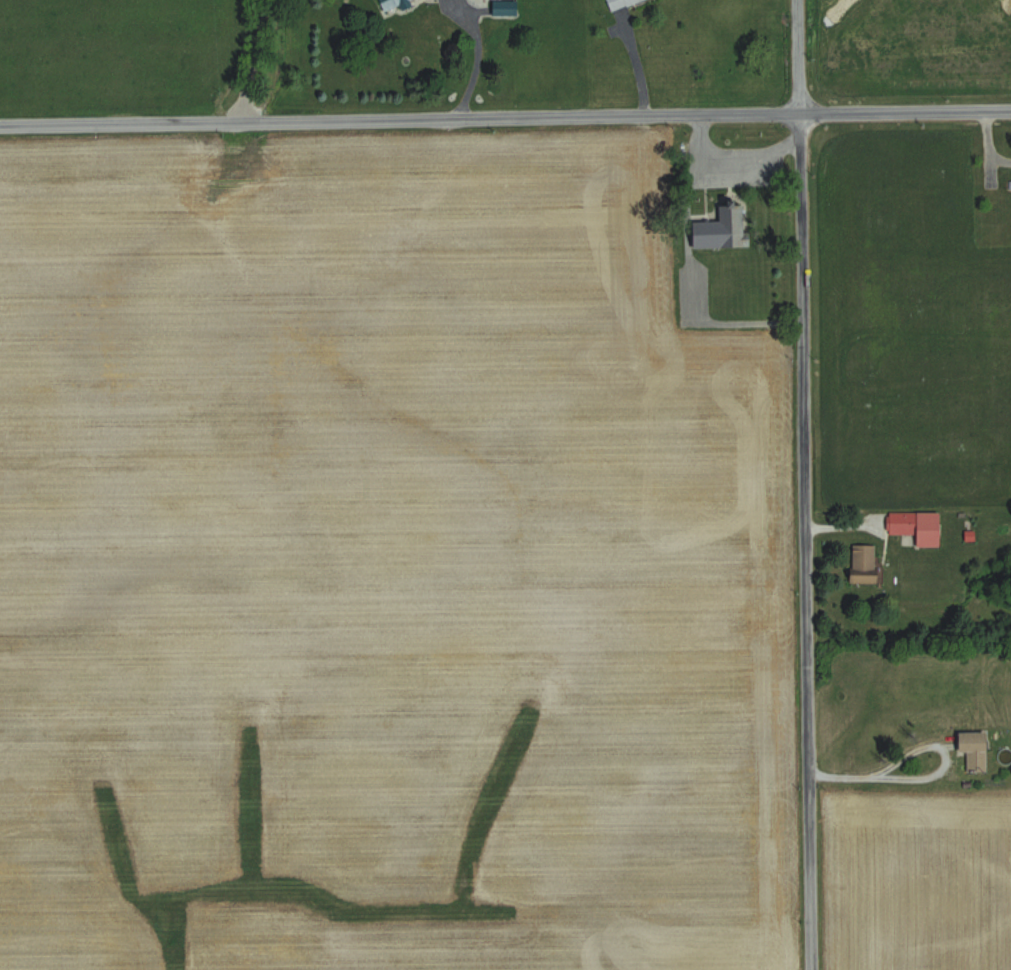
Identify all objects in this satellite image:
building: (397, 4)
building: (623, 4)
road: (460, 56)
road: (251, 61)
road: (505, 118)
road: (729, 157)
building: (724, 228)
road: (805, 484)
building: (920, 526)
building: (865, 556)
building: (976, 750)
road: (884, 773)

